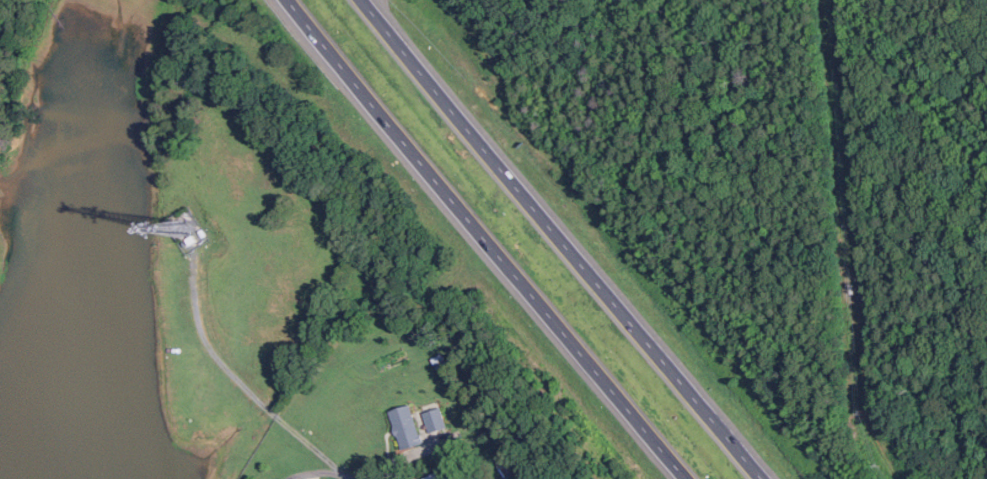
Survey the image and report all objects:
building: (202, 233)
building: (192, 239)
road: (485, 240)
road: (559, 240)
road: (239, 381)
building: (436, 419)
building: (407, 426)
road: (402, 457)
road: (316, 472)
building: (436, 475)
road: (347, 477)
building: (455, 478)

